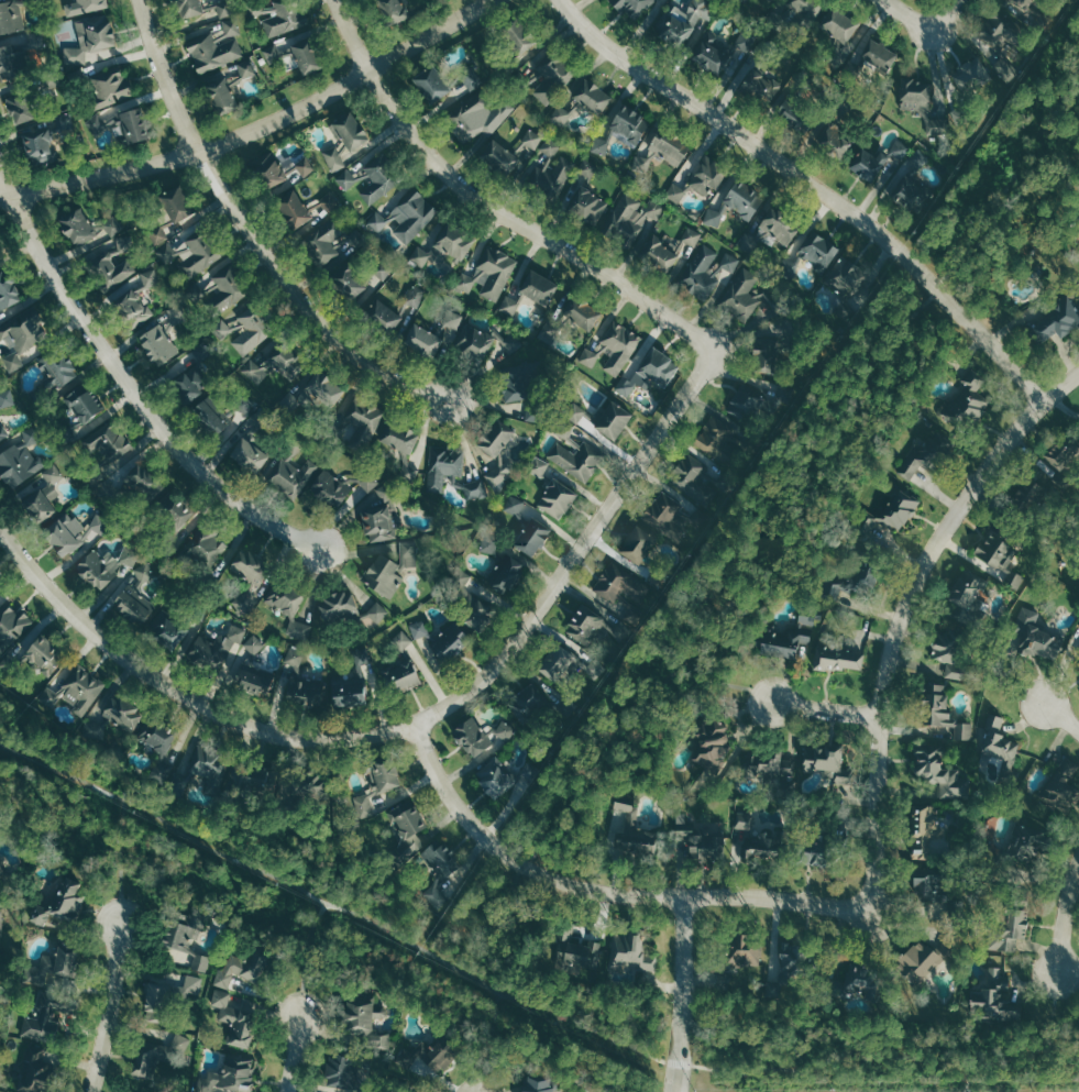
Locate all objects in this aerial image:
building: (1020, 4)
building: (82, 7)
building: (189, 8)
building: (635, 8)
building: (806, 8)
building: (221, 9)
building: (393, 11)
road: (912, 14)
road: (944, 14)
building: (11, 18)
building: (283, 18)
building: (685, 22)
building: (839, 27)
building: (1004, 27)
building: (518, 40)
building: (217, 47)
building: (713, 54)
building: (879, 56)
building: (305, 57)
building: (9, 63)
building: (982, 73)
building: (472, 77)
building: (550, 79)
building: (431, 85)
building: (760, 87)
building: (109, 88)
building: (229, 88)
building: (915, 95)
building: (593, 97)
building: (788, 110)
building: (20, 113)
building: (561, 115)
building: (482, 118)
building: (624, 121)
road: (258, 123)
building: (120, 125)
building: (830, 135)
building: (346, 141)
building: (530, 143)
building: (668, 147)
building: (38, 148)
building: (900, 150)
building: (500, 157)
building: (868, 165)
building: (552, 169)
building: (588, 169)
building: (280, 170)
building: (707, 176)
building: (346, 179)
building: (377, 181)
road: (817, 184)
building: (914, 184)
building: (675, 192)
building: (744, 198)
building: (175, 205)
road: (495, 205)
building: (590, 206)
building: (294, 209)
building: (635, 214)
building: (414, 216)
building: (714, 217)
building: (377, 221)
building: (112, 225)
building: (77, 228)
building: (778, 228)
road: (255, 230)
building: (159, 234)
building: (324, 242)
building: (455, 242)
building: (672, 249)
building: (818, 250)
building: (190, 255)
building: (425, 255)
building: (115, 265)
building: (709, 271)
building: (489, 275)
building: (847, 276)
building: (152, 277)
building: (350, 282)
building: (7, 290)
building: (223, 291)
building: (530, 291)
building: (415, 296)
building: (744, 297)
building: (133, 308)
building: (583, 313)
building: (386, 316)
building: (1057, 320)
building: (451, 324)
building: (245, 332)
building: (21, 340)
building: (423, 340)
building: (157, 343)
building: (492, 344)
building: (620, 346)
building: (764, 354)
building: (590, 356)
building: (271, 365)
building: (59, 368)
building: (650, 372)
building: (189, 384)
building: (514, 386)
road: (132, 387)
building: (323, 389)
building: (972, 397)
building: (7, 398)
building: (85, 402)
building: (749, 404)
building: (206, 410)
building: (575, 411)
building: (366, 419)
building: (612, 419)
building: (564, 429)
building: (333, 432)
building: (2, 433)
building: (718, 439)
building: (109, 443)
building: (404, 449)
building: (250, 454)
building: (927, 455)
building: (1059, 455)
building: (502, 459)
building: (577, 460)
building: (19, 461)
building: (443, 465)
building: (540, 466)
building: (294, 475)
building: (693, 476)
building: (370, 481)
building: (143, 483)
building: (331, 487)
building: (480, 490)
building: (44, 494)
building: (557, 498)
building: (515, 505)
building: (174, 510)
building: (888, 514)
building: (668, 515)
building: (379, 516)
road: (775, 527)
building: (533, 537)
building: (638, 544)
road: (581, 547)
building: (208, 549)
building: (997, 559)
building: (250, 565)
building: (390, 565)
building: (104, 566)
building: (503, 571)
building: (871, 574)
building: (0, 583)
building: (621, 585)
building: (840, 593)
building: (135, 596)
building: (968, 596)
building: (245, 600)
building: (470, 603)
building: (338, 605)
building: (294, 610)
road: (903, 611)
building: (376, 613)
building: (585, 625)
building: (13, 626)
building: (419, 629)
building: (169, 631)
building: (1035, 636)
building: (403, 640)
building: (788, 640)
building: (449, 642)
building: (254, 643)
building: (216, 650)
building: (949, 654)
building: (41, 655)
building: (839, 657)
building: (1078, 660)
building: (559, 662)
building: (403, 675)
building: (253, 681)
building: (299, 681)
building: (74, 692)
road: (181, 692)
building: (346, 692)
building: (532, 697)
road: (825, 706)
building: (118, 710)
building: (942, 712)
road: (1063, 719)
building: (478, 736)
building: (712, 743)
building: (1001, 743)
building: (156, 744)
building: (824, 762)
building: (772, 765)
building: (209, 769)
building: (942, 773)
building: (383, 774)
building: (495, 780)
building: (257, 781)
building: (315, 785)
building: (1061, 785)
building: (625, 803)
building: (364, 805)
building: (409, 820)
building: (926, 834)
building: (415, 841)
building: (634, 841)
building: (696, 841)
building: (1024, 849)
building: (758, 853)
building: (808, 853)
building: (441, 857)
road: (119, 860)
building: (0, 871)
building: (924, 885)
road: (604, 889)
building: (436, 894)
building: (58, 906)
road: (1065, 916)
building: (1014, 928)
building: (183, 930)
building: (574, 952)
building: (745, 952)
road: (304, 956)
building: (631, 958)
building: (918, 961)
building: (201, 962)
building: (53, 964)
building: (239, 975)
building: (858, 980)
building: (175, 993)
road: (682, 994)
road: (520, 999)
building: (994, 1000)
road: (106, 1007)
road: (1053, 1008)
building: (235, 1019)
building: (362, 1019)
building: (51, 1026)
road: (488, 1043)
road: (296, 1054)
building: (146, 1063)
building: (421, 1063)
building: (343, 1071)
building: (232, 1074)
road: (968, 1074)
building: (33, 1084)
building: (539, 1084)

